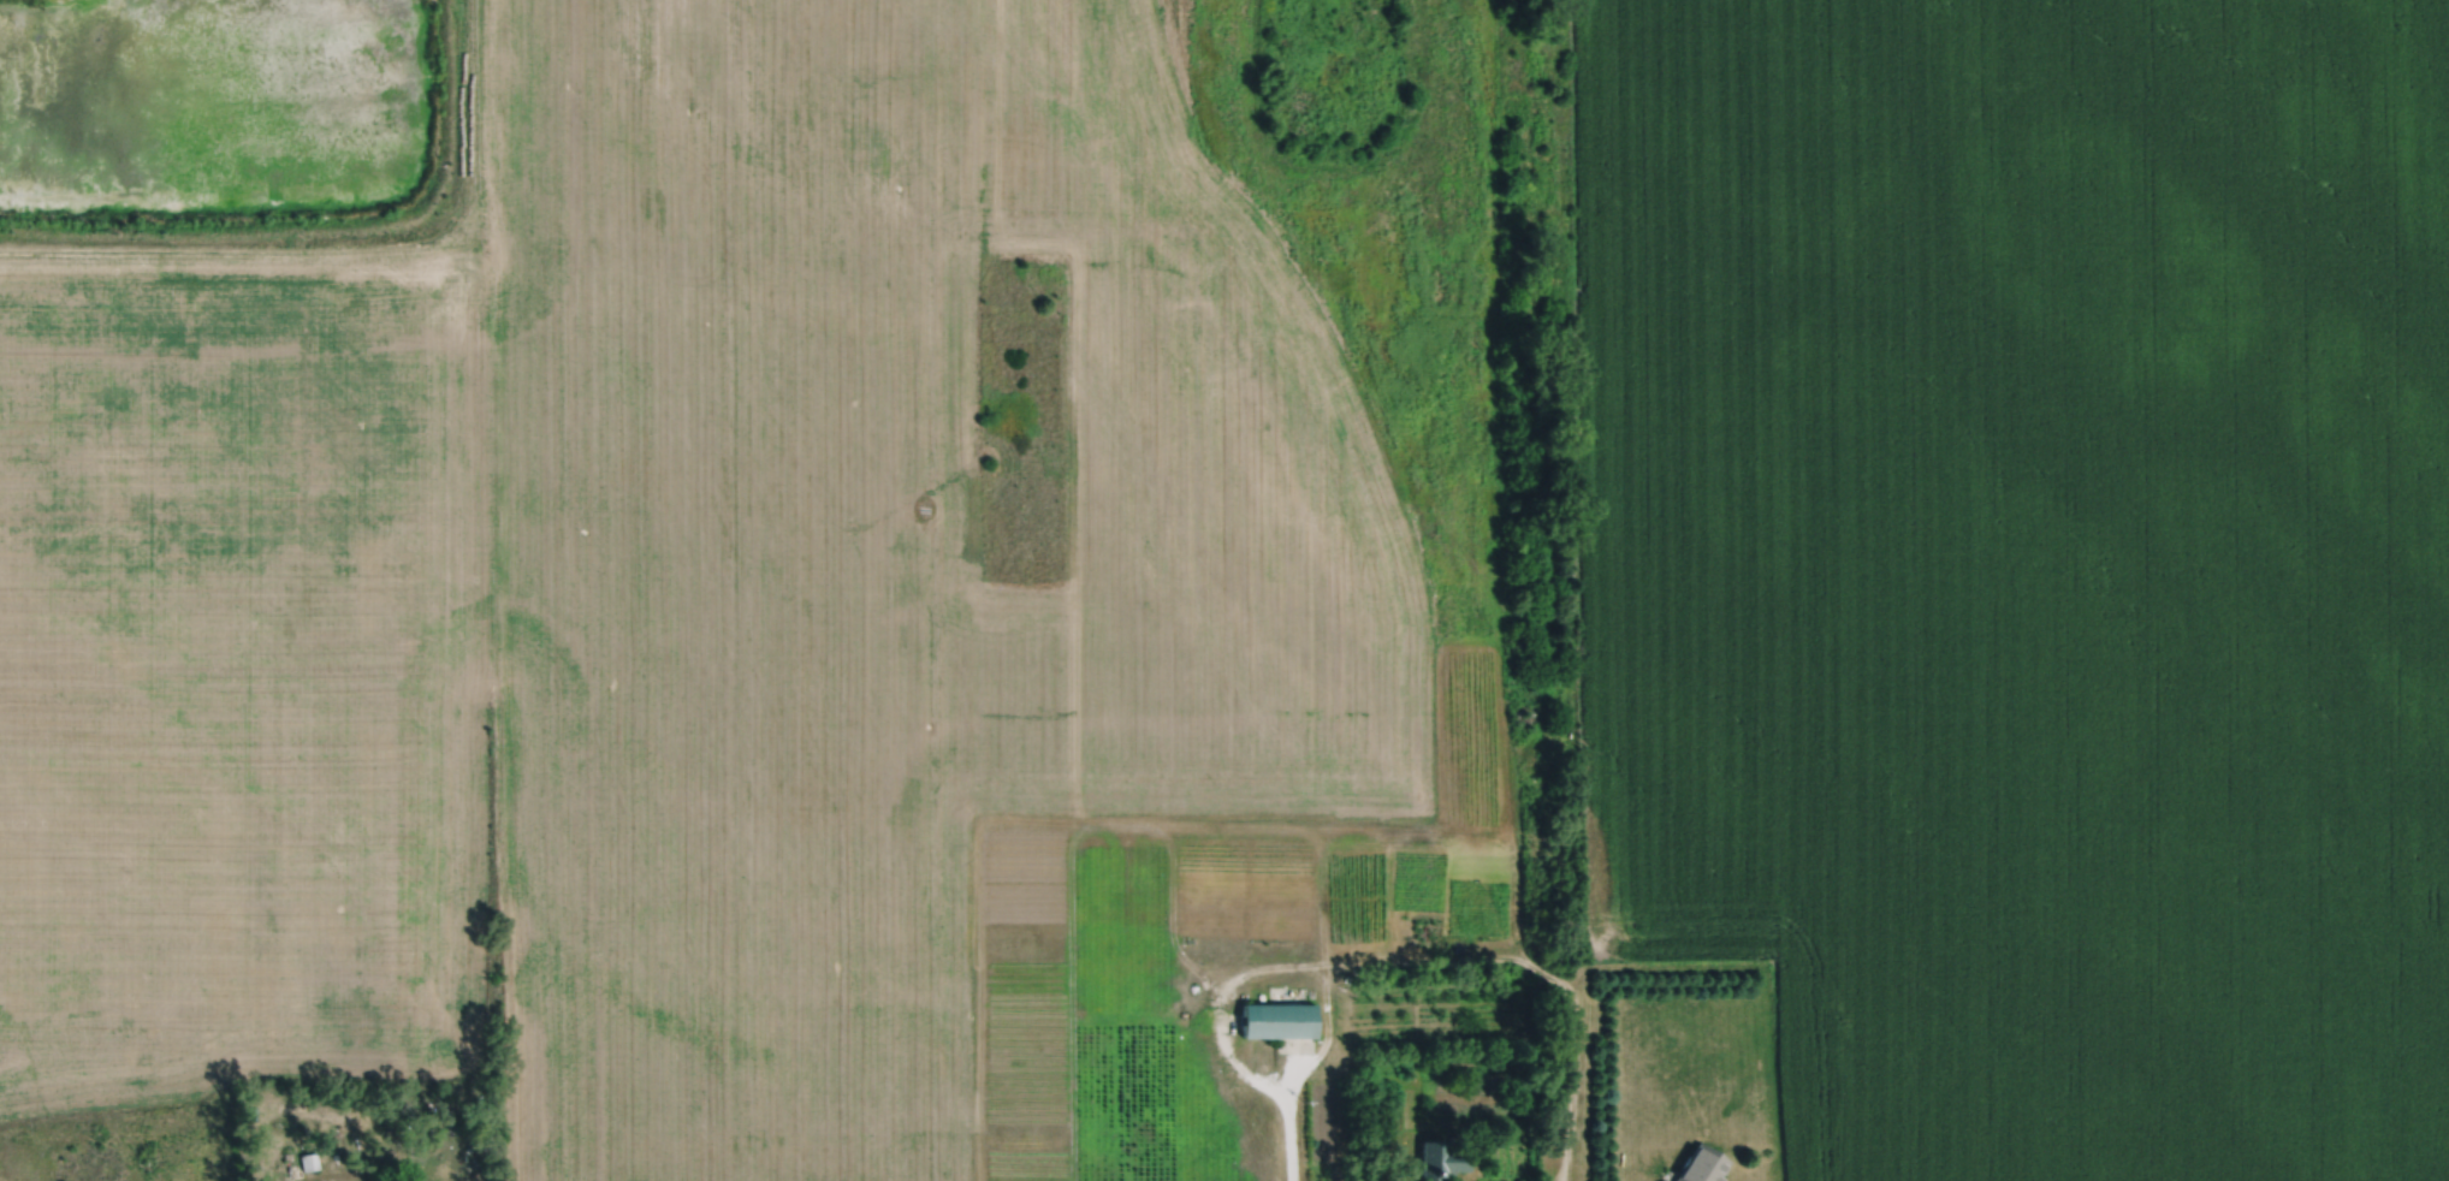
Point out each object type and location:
road: (340, 244)
crop: (2028, 566)
road: (1502, 677)
building: (1430, 931)
road: (1534, 963)
road: (1270, 965)
building: (1279, 1017)
road: (1289, 1147)
building: (1442, 1158)
building: (309, 1159)
building: (1702, 1165)
road: (350, 1168)
building: (1665, 1180)

